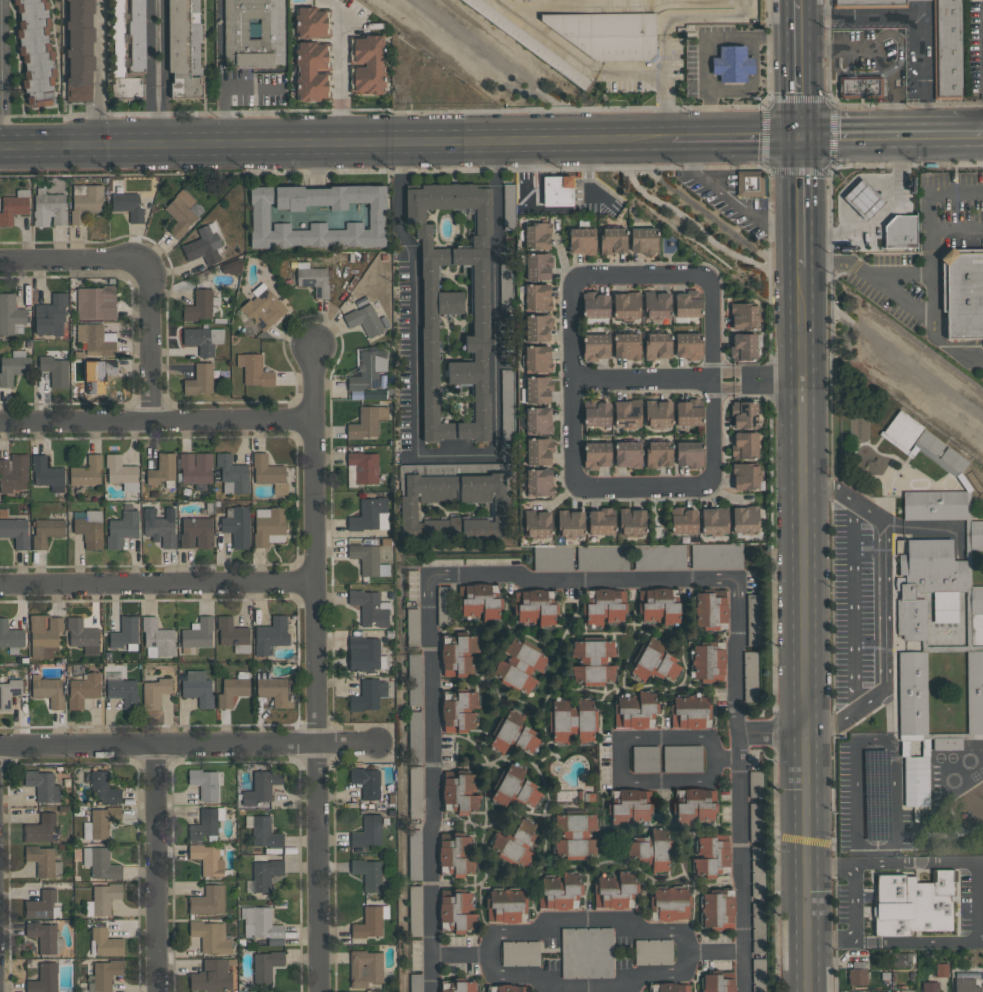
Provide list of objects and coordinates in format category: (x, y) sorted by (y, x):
road: (799, 0)
building: (868, 3)
road: (688, 14)
road: (919, 16)
road: (353, 19)
building: (311, 22)
building: (253, 32)
building: (605, 35)
road: (884, 35)
building: (528, 40)
road: (97, 42)
road: (706, 42)
building: (183, 47)
building: (947, 48)
building: (79, 50)
road: (817, 50)
building: (35, 52)
building: (132, 54)
road: (573, 57)
building: (731, 63)
building: (367, 64)
road: (800, 69)
road: (341, 70)
building: (311, 72)
road: (154, 74)
road: (0, 75)
road: (852, 75)
building: (861, 87)
road: (666, 105)
road: (891, 105)
road: (99, 116)
road: (891, 138)
road: (737, 139)
traffic signals: (800, 139)
road: (521, 143)
road: (183, 147)
road: (524, 173)
road: (588, 175)
building: (749, 183)
building: (556, 190)
road: (556, 196)
building: (863, 199)
building: (84, 201)
road: (730, 201)
road: (800, 204)
building: (127, 205)
road: (930, 205)
building: (13, 206)
building: (508, 206)
building: (48, 208)
building: (182, 212)
building: (316, 216)
road: (879, 216)
road: (707, 218)
road: (694, 226)
park: (696, 227)
building: (899, 232)
building: (536, 236)
building: (580, 240)
building: (611, 240)
building: (643, 240)
building: (203, 245)
road: (72, 265)
building: (537, 266)
building: (231, 267)
road: (866, 268)
building: (312, 279)
building: (504, 281)
building: (962, 294)
road: (415, 297)
building: (537, 297)
road: (496, 299)
building: (95, 302)
building: (687, 304)
building: (199, 305)
building: (595, 305)
building: (625, 305)
building: (656, 305)
building: (263, 307)
building: (453, 307)
building: (9, 313)
building: (50, 316)
building: (743, 316)
building: (364, 319)
road: (802, 324)
building: (537, 328)
road: (933, 331)
building: (96, 339)
building: (203, 339)
road: (148, 342)
building: (625, 345)
building: (657, 345)
building: (688, 345)
building: (595, 347)
building: (742, 347)
building: (537, 358)
building: (13, 366)
building: (53, 370)
building: (254, 370)
building: (368, 370)
building: (97, 374)
building: (199, 379)
road: (665, 379)
road: (780, 379)
road: (713, 380)
road: (312, 383)
building: (537, 389)
building: (507, 404)
building: (688, 412)
building: (596, 413)
building: (626, 413)
building: (657, 413)
building: (743, 414)
road: (154, 419)
building: (540, 420)
building: (366, 421)
building: (921, 443)
building: (743, 445)
building: (538, 450)
road: (456, 453)
building: (657, 454)
building: (688, 454)
building: (596, 455)
building: (626, 455)
building: (362, 467)
building: (195, 468)
building: (162, 469)
building: (86, 472)
building: (120, 472)
building: (268, 472)
building: (13, 473)
building: (46, 474)
building: (231, 474)
building: (744, 476)
building: (538, 482)
road: (827, 486)
building: (934, 504)
building: (453, 506)
building: (367, 513)
building: (745, 519)
building: (683, 520)
building: (714, 520)
building: (600, 521)
building: (631, 521)
building: (537, 523)
building: (569, 523)
building: (269, 525)
building: (160, 526)
building: (237, 526)
building: (90, 528)
building: (122, 528)
building: (15, 531)
building: (46, 531)
building: (196, 532)
building: (976, 533)
building: (365, 557)
building: (637, 558)
road: (581, 577)
building: (925, 581)
road: (157, 584)
building: (478, 600)
building: (658, 605)
road: (853, 605)
building: (534, 606)
building: (604, 606)
road: (883, 606)
building: (369, 607)
building: (710, 608)
building: (976, 613)
building: (751, 620)
building: (412, 627)
building: (231, 631)
building: (125, 632)
building: (198, 632)
building: (44, 634)
building: (271, 634)
building: (10, 635)
building: (83, 635)
building: (158, 636)
building: (363, 653)
building: (458, 655)
building: (654, 660)
building: (593, 661)
building: (708, 663)
building: (519, 665)
building: (749, 675)
building: (414, 679)
road: (806, 685)
building: (198, 688)
building: (83, 689)
building: (232, 690)
building: (8, 691)
building: (49, 691)
building: (123, 691)
building: (274, 691)
building: (974, 691)
building: (155, 692)
building: (912, 692)
building: (368, 694)
road: (317, 705)
building: (635, 709)
building: (459, 710)
building: (689, 711)
building: (572, 720)
road: (830, 724)
road: (773, 727)
building: (513, 733)
building: (414, 736)
building: (946, 743)
road: (188, 745)
building: (644, 758)
building: (682, 758)
road: (621, 761)
road: (725, 761)
building: (915, 780)
building: (366, 781)
building: (208, 782)
building: (754, 784)
building: (43, 785)
building: (261, 786)
building: (103, 787)
building: (514, 787)
building: (459, 790)
building: (415, 791)
road: (953, 801)
building: (695, 805)
building: (629, 806)
building: (103, 820)
building: (753, 822)
building: (204, 824)
building: (39, 828)
building: (367, 831)
building: (264, 832)
road: (949, 833)
building: (574, 835)
building: (516, 842)
building: (651, 848)
building: (456, 853)
building: (414, 854)
building: (711, 855)
building: (41, 859)
building: (207, 859)
building: (103, 864)
road: (896, 866)
road: (154, 869)
building: (756, 871)
building: (265, 873)
building: (368, 873)
building: (614, 890)
building: (558, 891)
building: (104, 897)
building: (208, 900)
road: (978, 902)
building: (669, 903)
road: (854, 903)
building: (913, 903)
building: (40, 904)
building: (505, 905)
building: (456, 909)
building: (718, 909)
building: (415, 911)
road: (587, 920)
building: (259, 922)
building: (368, 922)
building: (757, 928)
building: (42, 935)
building: (210, 936)
road: (917, 939)
road: (832, 940)
building: (106, 941)
building: (652, 951)
building: (586, 952)
building: (519, 953)
road: (715, 954)
road: (461, 955)
building: (266, 965)
building: (365, 968)
building: (941, 970)
building: (105, 973)
building: (756, 975)
building: (856, 975)
building: (212, 976)
building: (44, 978)
building: (415, 982)
building: (717, 982)
road: (589, 985)
building: (966, 985)
building: (460, 987)
building: (673, 987)
building: (930, 987)
building: (508, 988)

